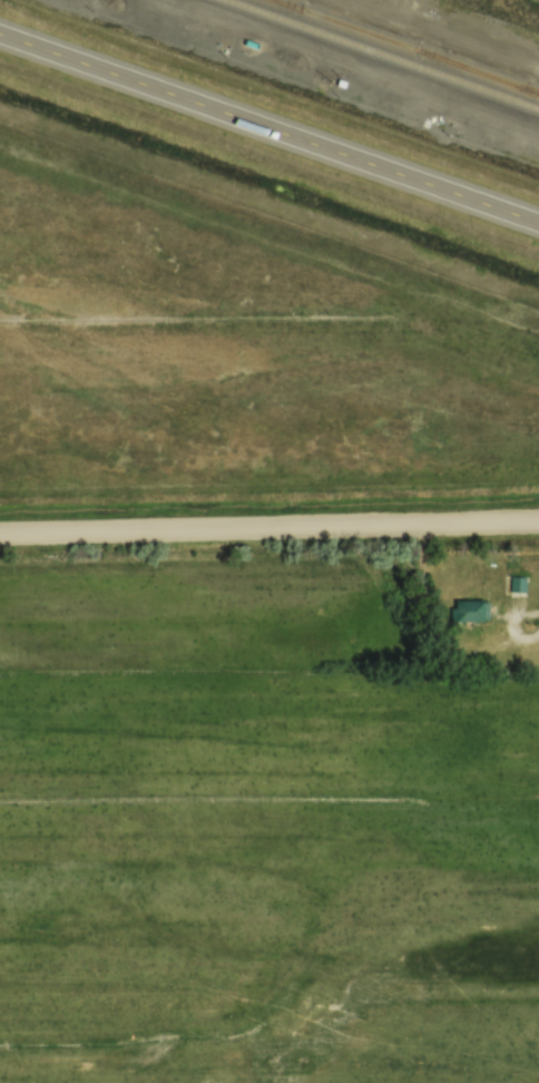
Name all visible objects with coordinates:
railway: (277, 1)
railway: (405, 46)
railway: (383, 53)
railway: (482, 74)
road: (269, 126)
road: (268, 525)
building: (519, 584)
building: (470, 609)
road: (521, 614)

